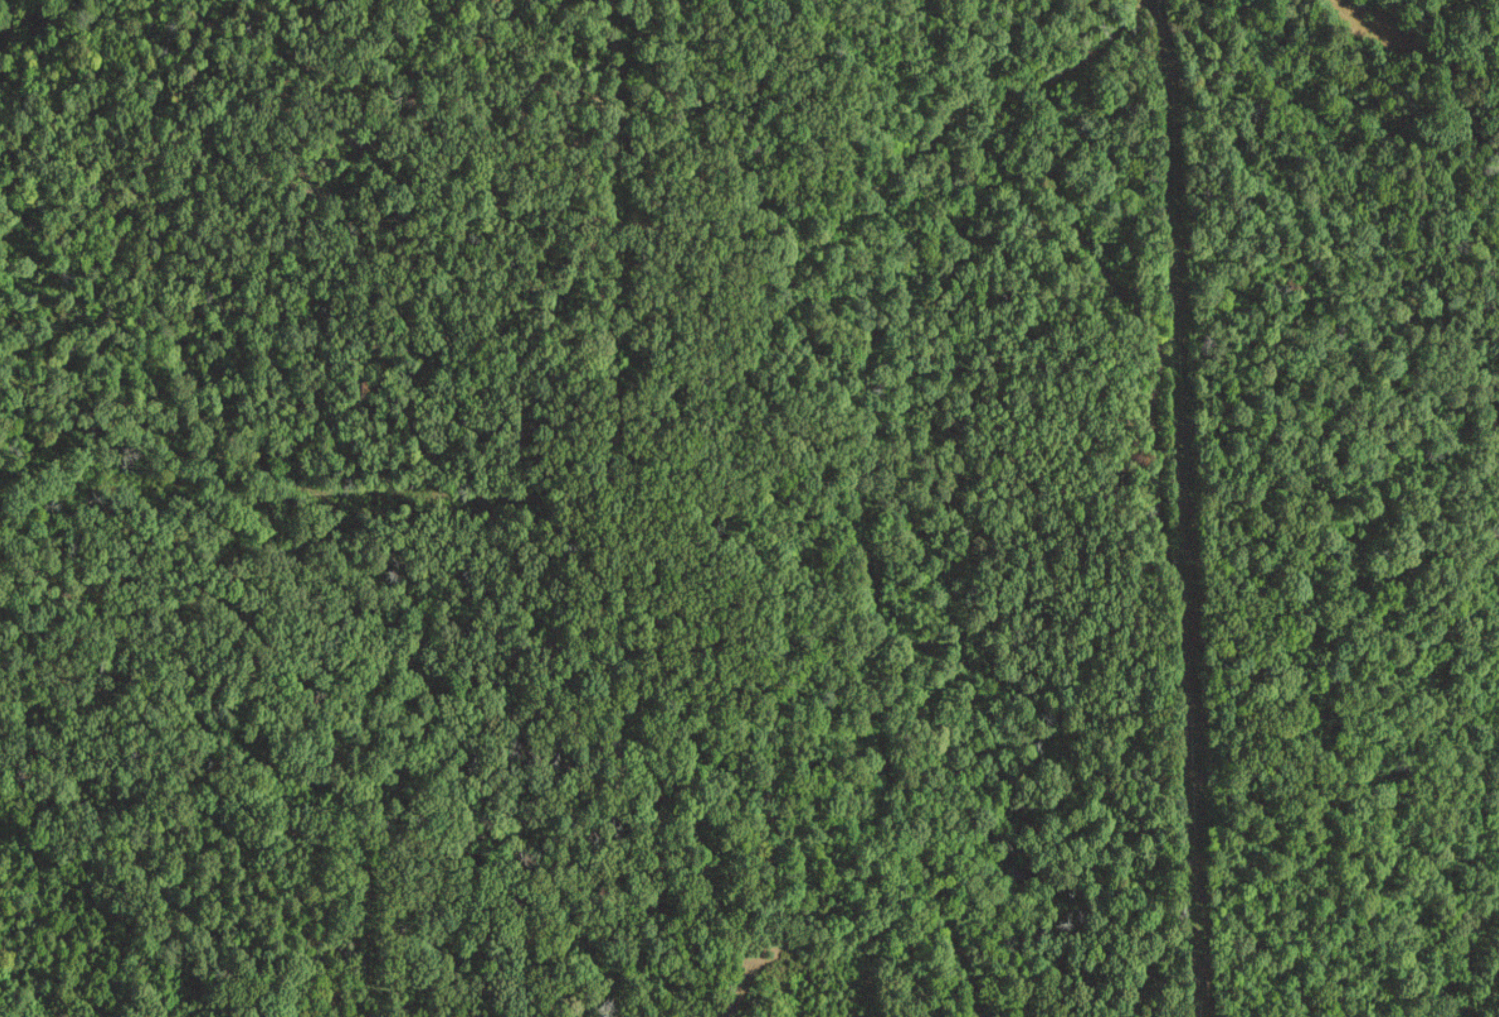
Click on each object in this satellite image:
road: (870, 451)

